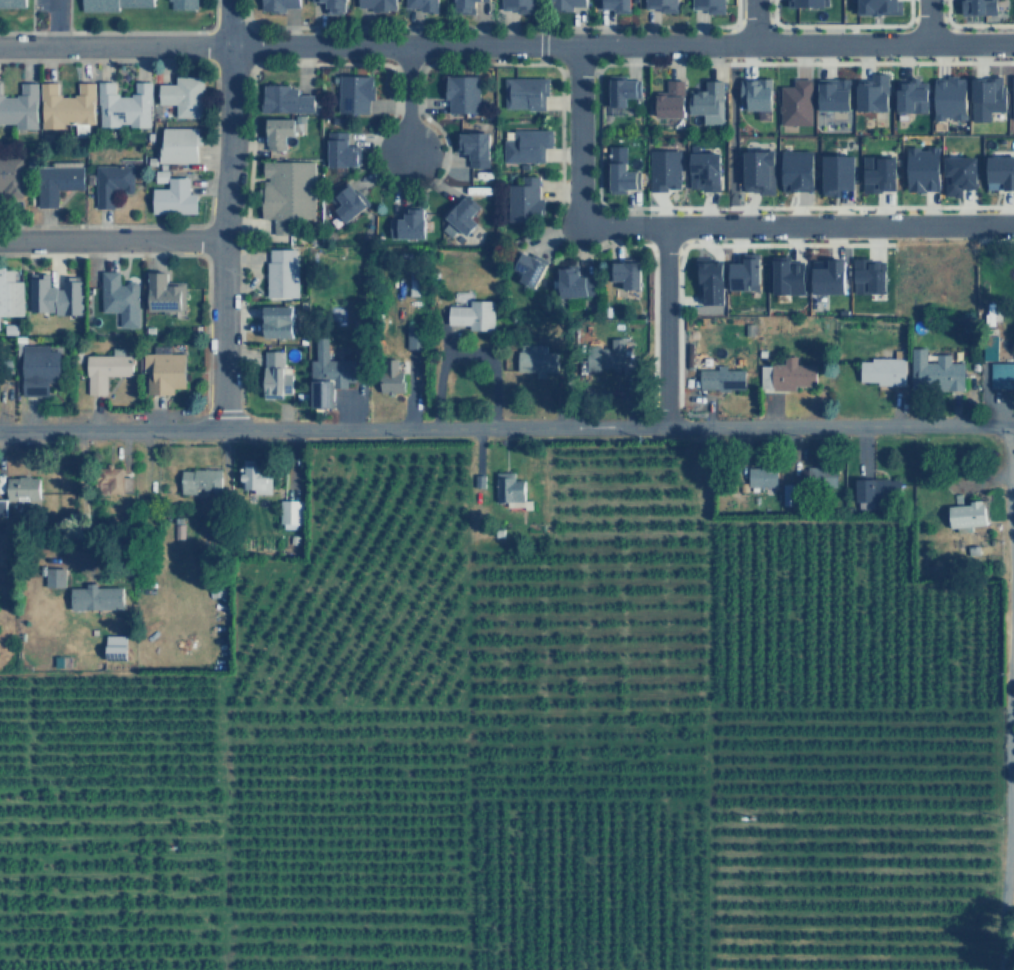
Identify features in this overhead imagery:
building: (487, 0)
building: (807, 1)
building: (562, 3)
building: (11, 4)
building: (182, 4)
building: (276, 4)
building: (378, 4)
building: (423, 4)
building: (463, 4)
building: (519, 4)
building: (662, 4)
building: (710, 4)
building: (110, 5)
building: (615, 5)
building: (879, 5)
building: (982, 5)
building: (335, 6)
road: (242, 10)
road: (32, 16)
road: (68, 16)
road: (924, 19)
road: (731, 21)
road: (750, 21)
road: (925, 21)
road: (54, 22)
road: (540, 22)
road: (769, 22)
road: (944, 22)
road: (981, 25)
road: (470, 26)
road: (829, 27)
road: (118, 33)
road: (507, 45)
road: (950, 53)
road: (540, 54)
road: (499, 63)
building: (619, 88)
building: (524, 91)
building: (353, 92)
building: (462, 93)
building: (182, 95)
building: (867, 95)
building: (283, 97)
building: (748, 97)
building: (828, 97)
building: (983, 98)
building: (669, 99)
building: (907, 99)
building: (1012, 99)
building: (945, 100)
road: (404, 101)
building: (707, 102)
building: (65, 105)
building: (19, 106)
building: (121, 106)
building: (789, 106)
building: (275, 130)
road: (572, 134)
road: (728, 136)
building: (175, 144)
building: (525, 144)
building: (472, 146)
building: (338, 150)
building: (662, 170)
building: (705, 170)
building: (918, 170)
building: (1000, 171)
building: (751, 172)
building: (791, 173)
building: (832, 174)
building: (955, 174)
building: (10, 175)
building: (873, 176)
building: (620, 177)
building: (53, 179)
building: (106, 183)
building: (286, 189)
road: (403, 189)
building: (173, 198)
building: (522, 200)
building: (345, 201)
road: (737, 206)
road: (224, 214)
building: (461, 215)
building: (407, 223)
road: (175, 225)
road: (794, 228)
road: (993, 238)
road: (111, 239)
road: (236, 239)
road: (201, 240)
road: (635, 244)
road: (178, 253)
building: (523, 268)
building: (625, 271)
building: (279, 272)
building: (741, 274)
building: (867, 274)
building: (828, 276)
building: (786, 277)
building: (568, 280)
building: (709, 282)
building: (116, 293)
building: (162, 293)
building: (10, 294)
building: (55, 294)
road: (647, 302)
building: (470, 316)
building: (276, 321)
road: (673, 328)
road: (658, 329)
building: (415, 335)
building: (534, 357)
building: (603, 357)
building: (162, 367)
building: (104, 369)
building: (36, 370)
building: (879, 370)
building: (940, 372)
building: (4, 374)
building: (326, 374)
building: (1000, 374)
building: (790, 375)
building: (274, 376)
building: (718, 378)
building: (389, 383)
road: (0, 409)
road: (506, 429)
building: (253, 475)
building: (763, 477)
building: (819, 477)
building: (198, 481)
building: (112, 484)
building: (18, 489)
building: (507, 489)
building: (874, 491)
building: (788, 494)
building: (2, 511)
building: (289, 511)
building: (964, 514)
building: (53, 577)
building: (93, 594)
building: (117, 645)
road: (1007, 697)

